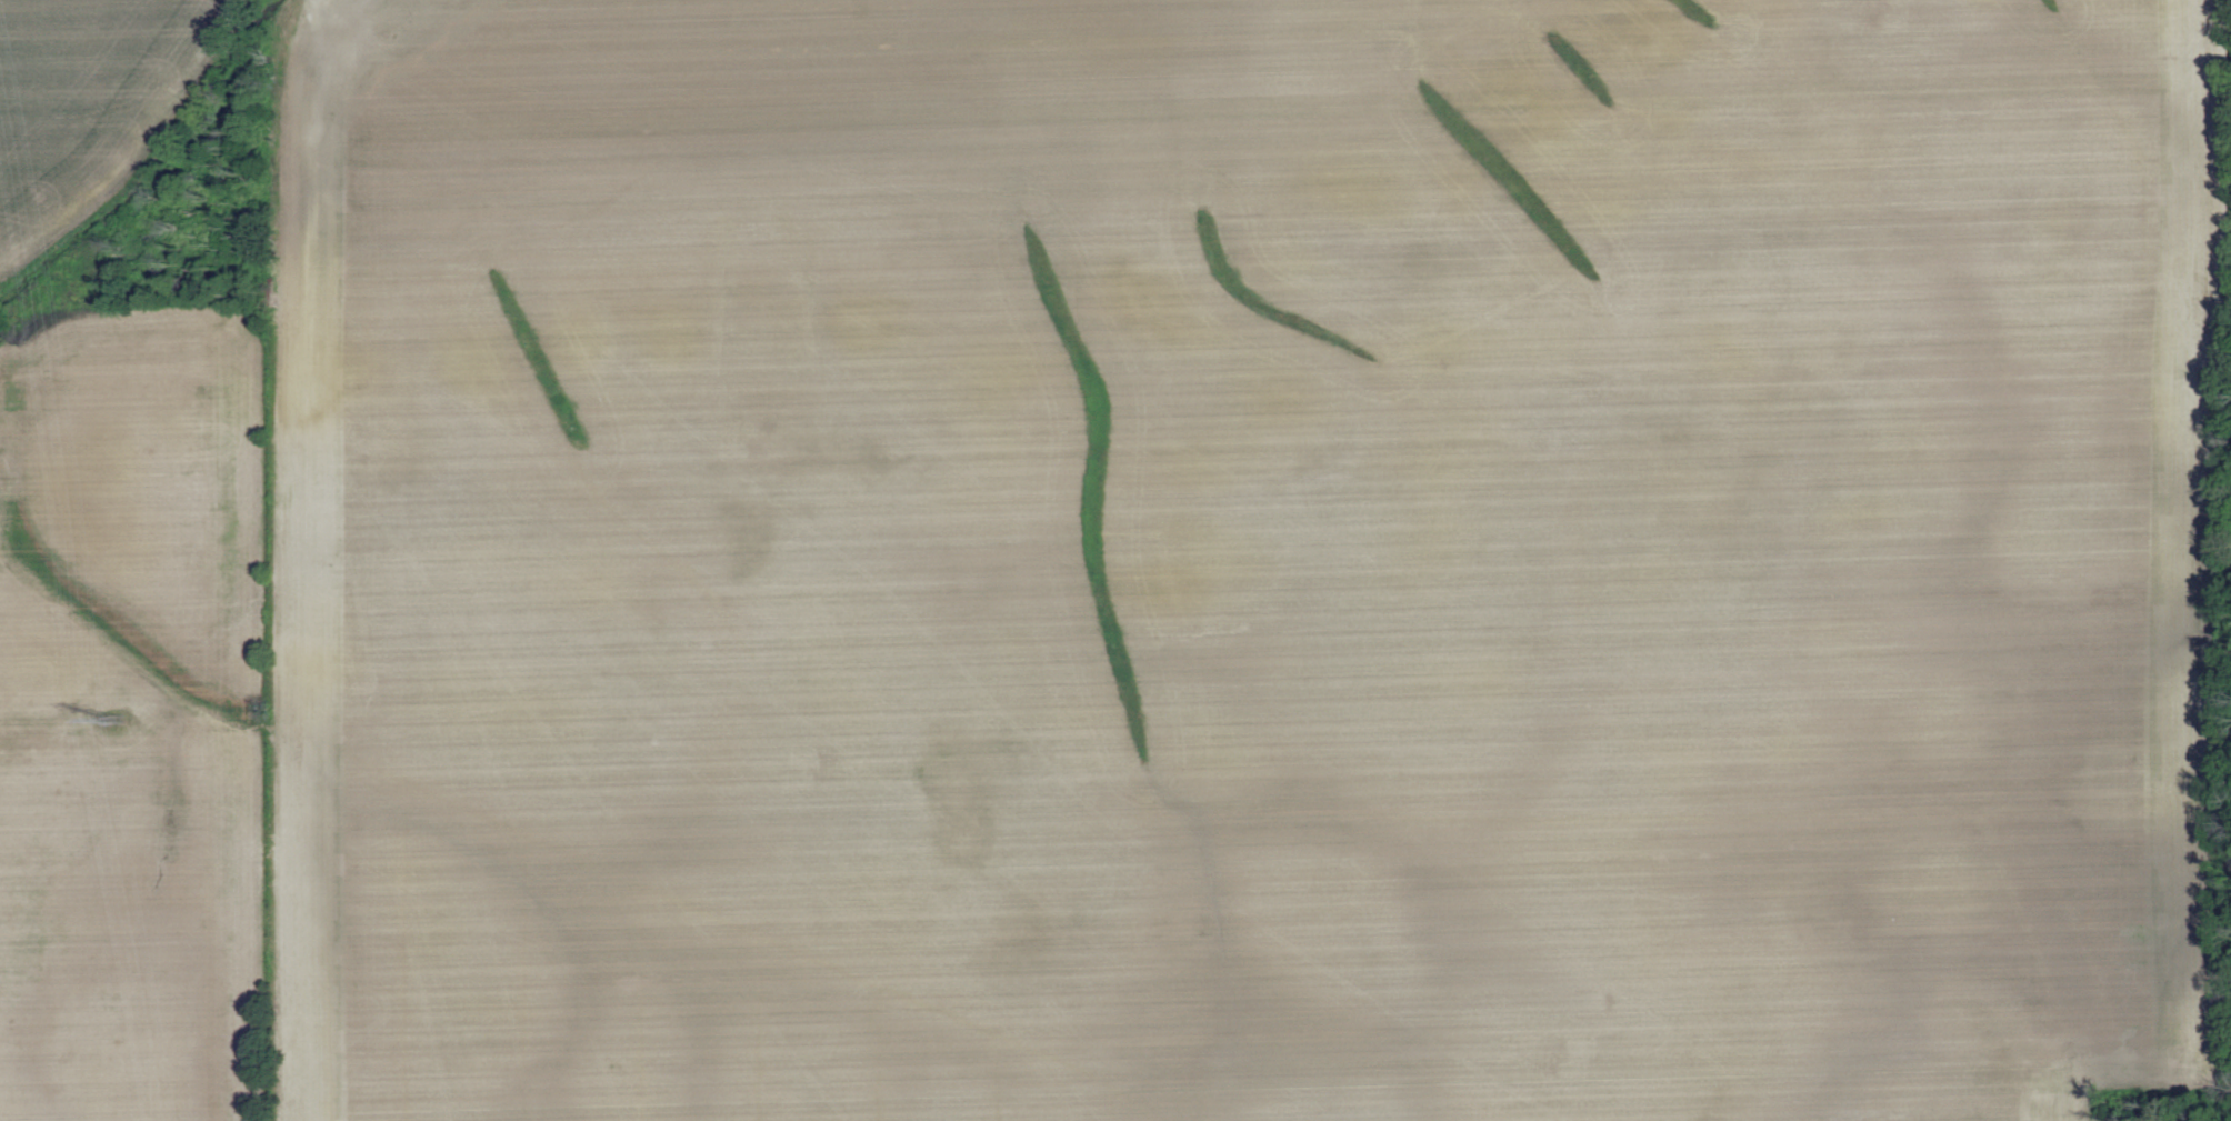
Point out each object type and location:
power tower: (119, 730)

